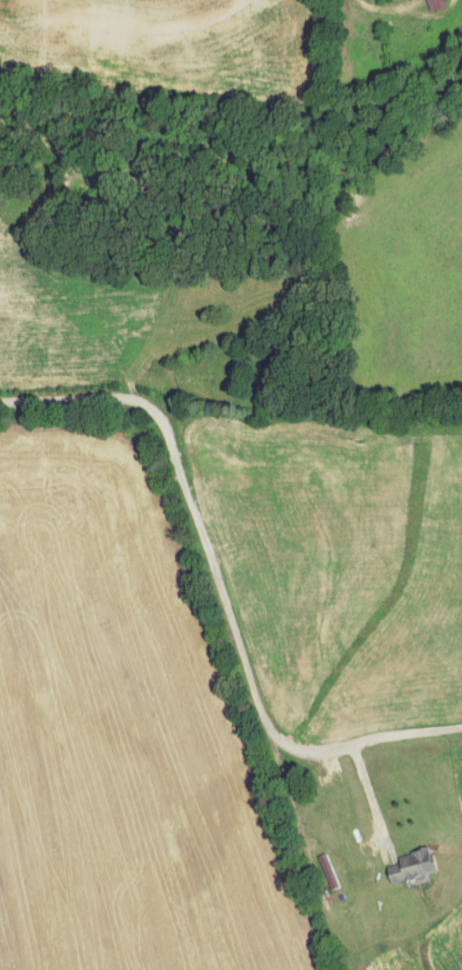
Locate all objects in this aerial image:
building: (437, 3)
road: (220, 593)
road: (372, 790)
road: (298, 808)
building: (413, 864)

